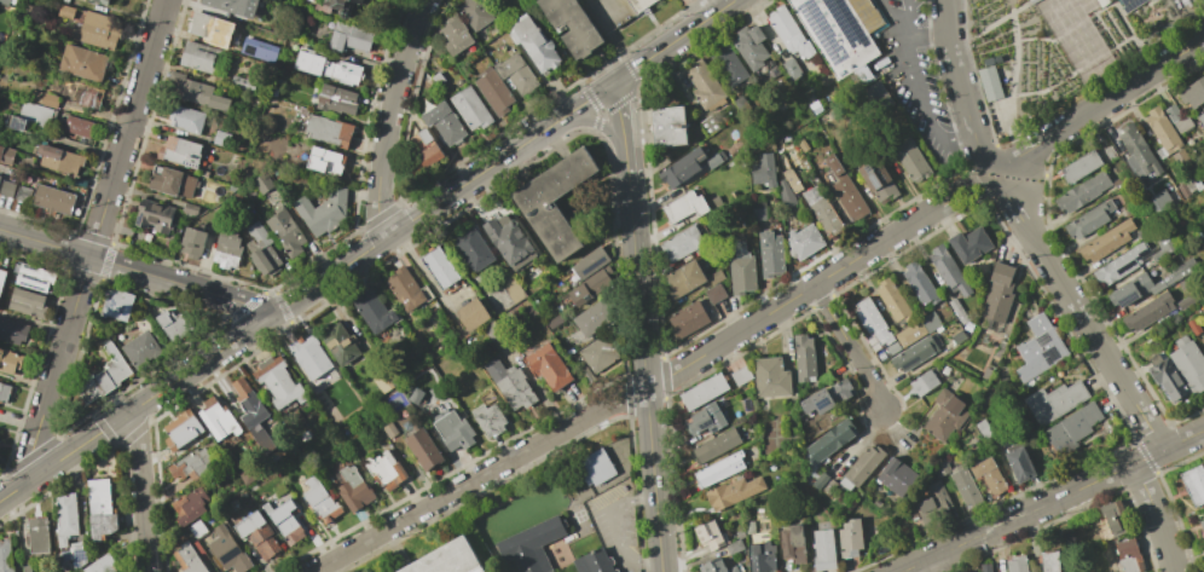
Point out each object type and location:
building: (353, 0)
building: (66, 1)
building: (100, 1)
building: (1100, 1)
building: (5, 2)
building: (638, 4)
building: (1129, 4)
rooftop solar panel: (1133, 4)
building: (235, 6)
building: (334, 7)
building: (66, 11)
parking lot: (609, 12)
building: (475, 13)
rooftop solar panel: (843, 16)
road: (908, 16)
building: (206, 25)
building: (572, 25)
building: (523, 27)
building: (97, 31)
road: (927, 31)
building: (788, 33)
rooftop solar panel: (824, 34)
building: (453, 35)
building: (841, 36)
building: (349, 39)
building: (749, 46)
road: (623, 48)
building: (249, 50)
building: (542, 52)
building: (206, 59)
building: (85, 63)
building: (728, 67)
building: (329, 68)
building: (791, 69)
building: (517, 75)
building: (438, 79)
road: (918, 79)
parking lot: (919, 79)
building: (280, 80)
building: (245, 81)
traffic signals: (613, 82)
building: (989, 83)
building: (702, 85)
road: (960, 86)
building: (274, 92)
building: (1192, 92)
building: (198, 93)
building: (494, 93)
building: (85, 96)
building: (337, 99)
building: (47, 100)
road: (1100, 103)
building: (471, 109)
road: (388, 116)
building: (30, 117)
building: (186, 117)
building: (1177, 120)
building: (1200, 120)
traffic signals: (592, 122)
road: (597, 122)
building: (445, 123)
building: (79, 126)
building: (667, 127)
building: (328, 129)
road: (623, 131)
building: (1160, 133)
building: (426, 138)
building: (221, 139)
building: (180, 152)
building: (1109, 152)
building: (1138, 152)
building: (7, 156)
road: (502, 157)
building: (423, 158)
building: (1180, 158)
building: (62, 160)
building: (714, 160)
building: (910, 160)
building: (326, 162)
rooftop solar panel: (866, 167)
building: (1079, 167)
building: (681, 168)
building: (763, 172)
building: (204, 174)
road: (994, 175)
building: (0, 178)
building: (791, 180)
rooftop solar panel: (874, 180)
building: (876, 180)
building: (172, 183)
building: (1118, 183)
building: (265, 184)
building: (7, 189)
building: (845, 191)
building: (1082, 192)
building: (785, 193)
building: (23, 195)
building: (53, 200)
building: (1160, 200)
building: (556, 202)
building: (683, 207)
building: (192, 209)
building: (821, 210)
building: (323, 213)
building: (155, 216)
rooftop solar panel: (138, 219)
building: (1088, 219)
building: (1057, 220)
building: (213, 226)
building: (286, 232)
road: (95, 236)
building: (510, 242)
building: (801, 242)
building: (1105, 242)
building: (193, 244)
building: (681, 244)
building: (969, 244)
building: (1162, 247)
building: (230, 249)
building: (474, 249)
building: (264, 250)
rooftop solar panel: (1144, 253)
building: (770, 254)
rooftop solar panel: (1138, 259)
building: (590, 262)
building: (1119, 265)
rooftop solar panel: (1125, 266)
building: (440, 267)
rooftop solar panel: (30, 268)
rooftop solar panel: (594, 268)
road: (135, 271)
building: (741, 271)
building: (947, 271)
building: (713, 276)
rooftop solar panel: (31, 277)
building: (2, 278)
building: (684, 278)
building: (36, 279)
building: (919, 284)
building: (1146, 284)
rooftop solar panel: (34, 285)
building: (591, 287)
building: (407, 290)
building: (997, 293)
building: (714, 294)
rooftop solar panel: (1127, 299)
building: (892, 301)
building: (1186, 301)
building: (28, 304)
building: (118, 305)
building: (145, 305)
building: (957, 311)
building: (375, 312)
building: (1148, 312)
building: (473, 316)
road: (1081, 316)
building: (595, 319)
building: (685, 320)
building: (870, 320)
building: (555, 323)
building: (143, 324)
building: (173, 325)
building: (1193, 327)
building: (916, 329)
building: (12, 331)
building: (1203, 336)
building: (957, 337)
building: (1203, 340)
building: (341, 343)
road: (850, 347)
building: (891, 348)
building: (1038, 348)
building: (141, 349)
building: (601, 353)
building: (913, 354)
building: (313, 358)
building: (804, 359)
building: (10, 362)
road: (202, 362)
building: (1188, 364)
building: (549, 366)
building: (106, 375)
building: (740, 375)
building: (587, 376)
road: (647, 376)
building: (770, 377)
building: (1167, 377)
road: (655, 381)
building: (279, 382)
building: (383, 383)
building: (922, 383)
building: (511, 385)
building: (5, 392)
building: (702, 392)
building: (490, 397)
building: (826, 397)
building: (1054, 401)
rooftop solar panel: (821, 403)
building: (249, 404)
building: (944, 415)
building: (219, 418)
building: (490, 420)
building: (705, 420)
building: (814, 428)
building: (181, 431)
building: (452, 431)
building: (1071, 431)
building: (830, 440)
road: (1183, 440)
building: (716, 445)
building: (423, 446)
road: (65, 453)
road: (1148, 456)
building: (338, 464)
building: (1019, 464)
building: (193, 466)
building: (597, 468)
building: (861, 468)
building: (719, 469)
building: (384, 472)
road: (1112, 473)
building: (895, 476)
building: (989, 476)
building: (820, 481)
building: (1194, 484)
building: (965, 485)
building: (829, 487)
building: (354, 489)
road: (1075, 490)
road: (140, 491)
building: (733, 492)
building: (940, 499)
building: (322, 502)
building: (190, 505)
building: (235, 505)
building: (924, 505)
building: (102, 509)
building: (265, 509)
road: (1156, 516)
building: (1113, 518)
building: (66, 519)
building: (85, 522)
building: (288, 522)
building: (249, 525)
parking lot: (617, 525)
building: (1202, 525)
building: (749, 527)
road: (619, 528)
building: (197, 530)
road: (979, 533)
building: (710, 535)
building: (39, 536)
building: (849, 538)
building: (265, 543)
building: (736, 543)
building: (792, 543)
building: (532, 545)
building: (823, 550)
building: (230, 551)
building: (77, 554)
rooftop solar panel: (227, 554)
building: (6, 555)
rooftop solar panel: (80, 555)
building: (1128, 556)
building: (763, 557)
building: (189, 559)
building: (448, 560)
building: (1049, 561)
building: (595, 562)
road: (938, 562)
building: (102, 564)
building: (1015, 564)
building: (717, 566)
building: (984, 567)
building: (27, 568)

